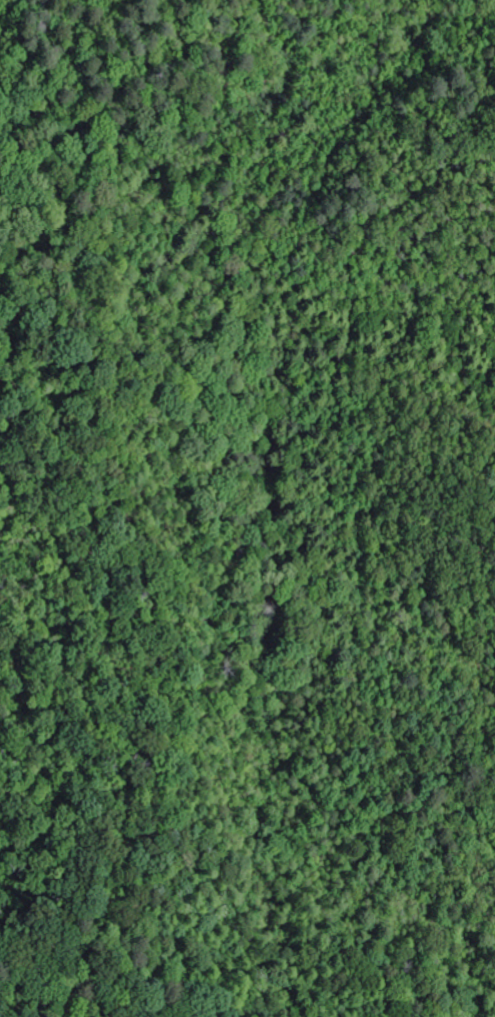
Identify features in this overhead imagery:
road: (37, 992)

